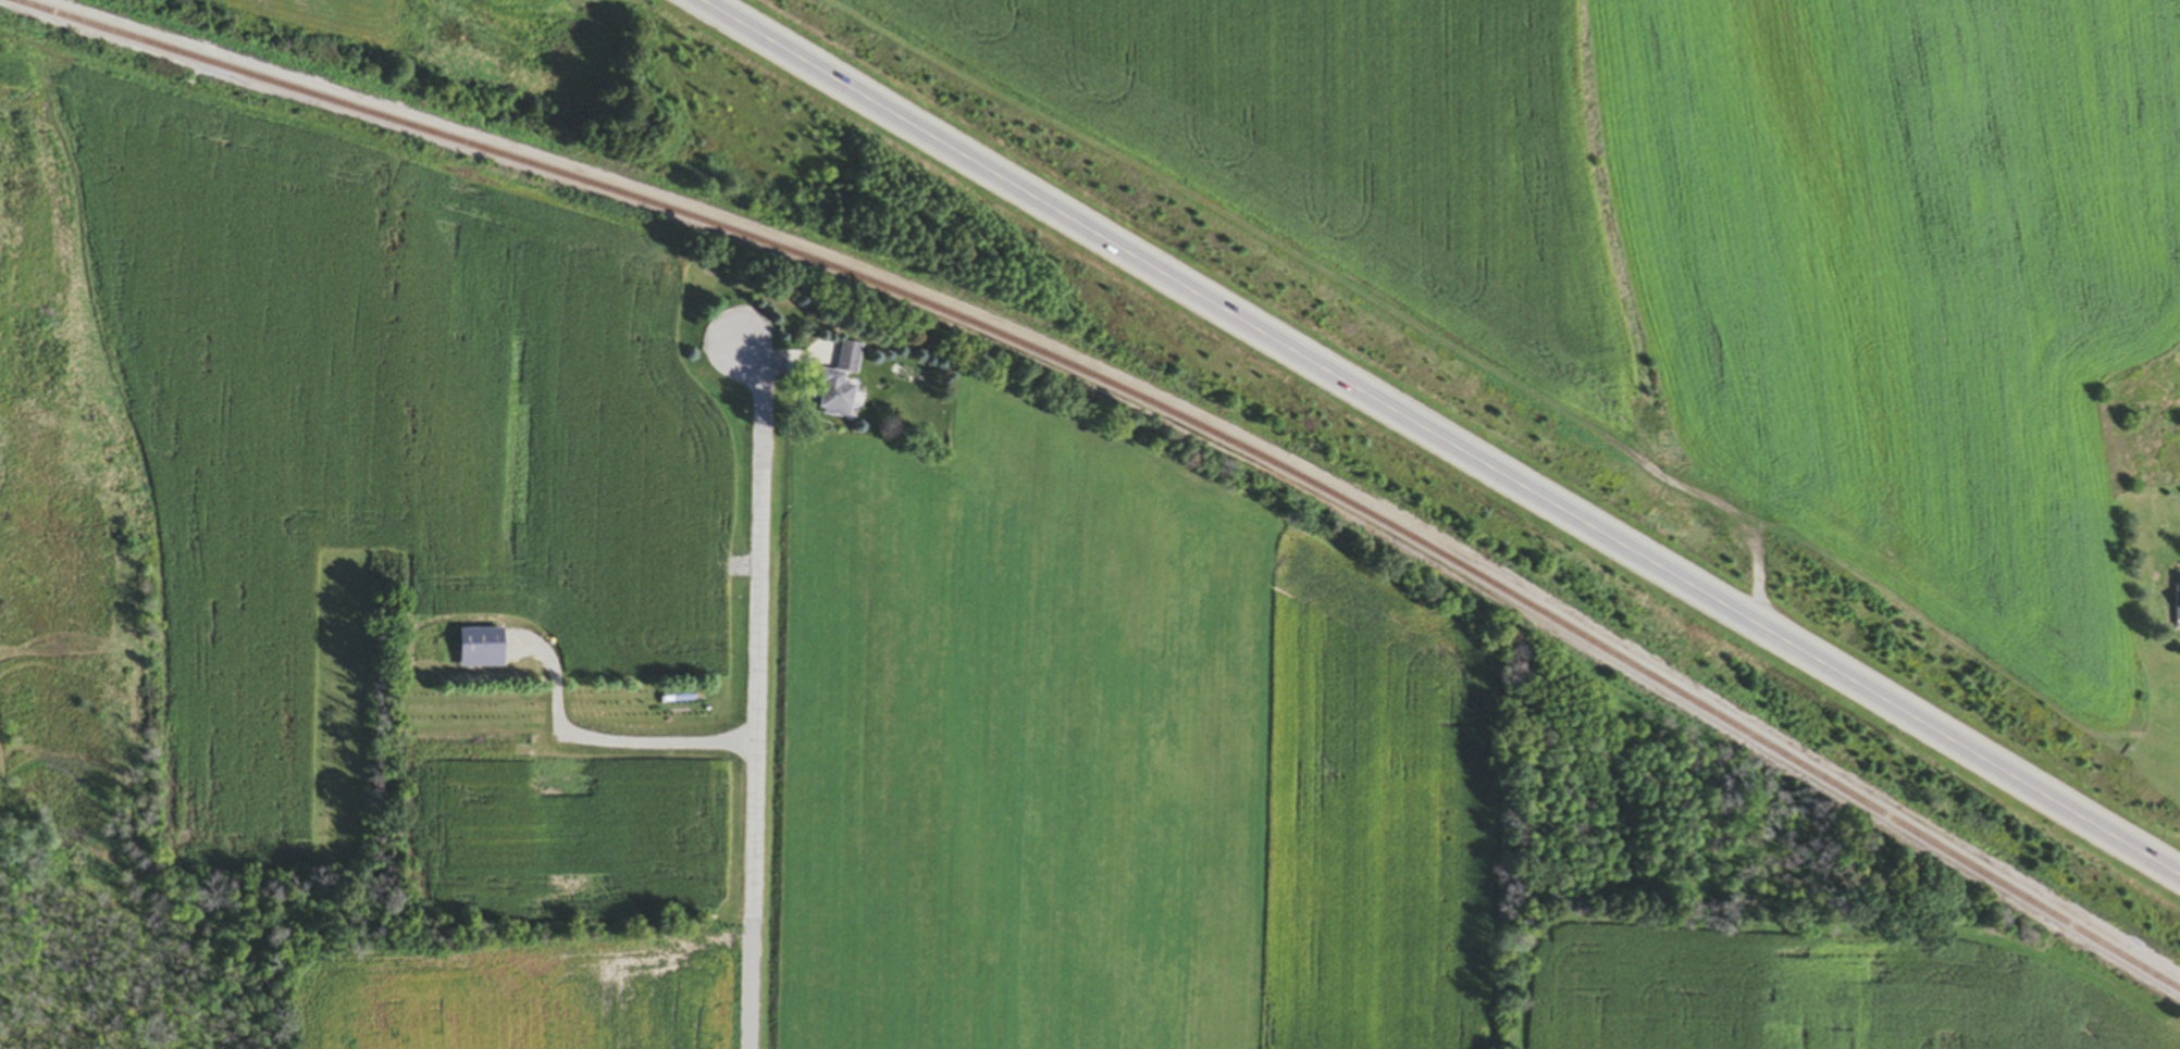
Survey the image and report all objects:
building: (840, 385)
railway: (1137, 397)
road: (1438, 438)
building: (2170, 497)
building: (2179, 605)
road: (758, 697)

